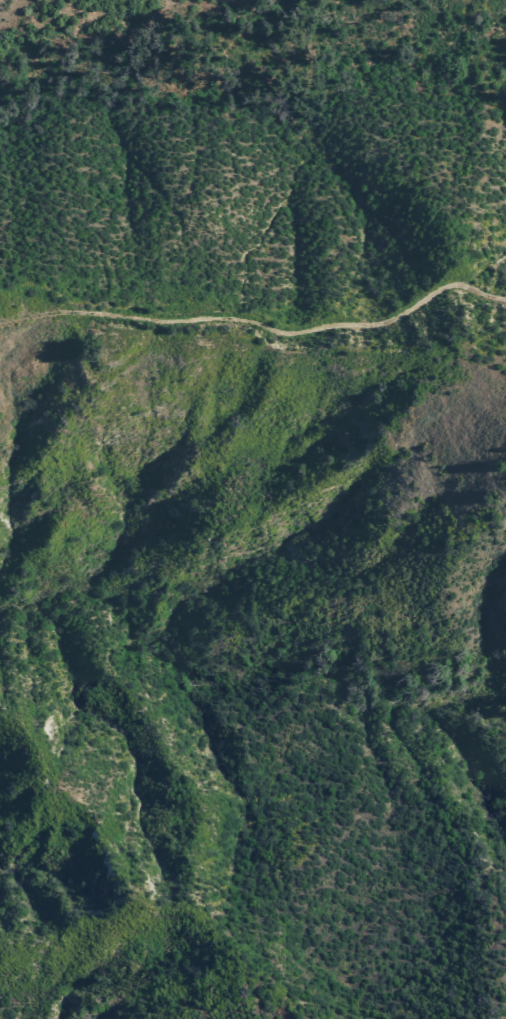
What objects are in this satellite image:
road: (259, 322)

